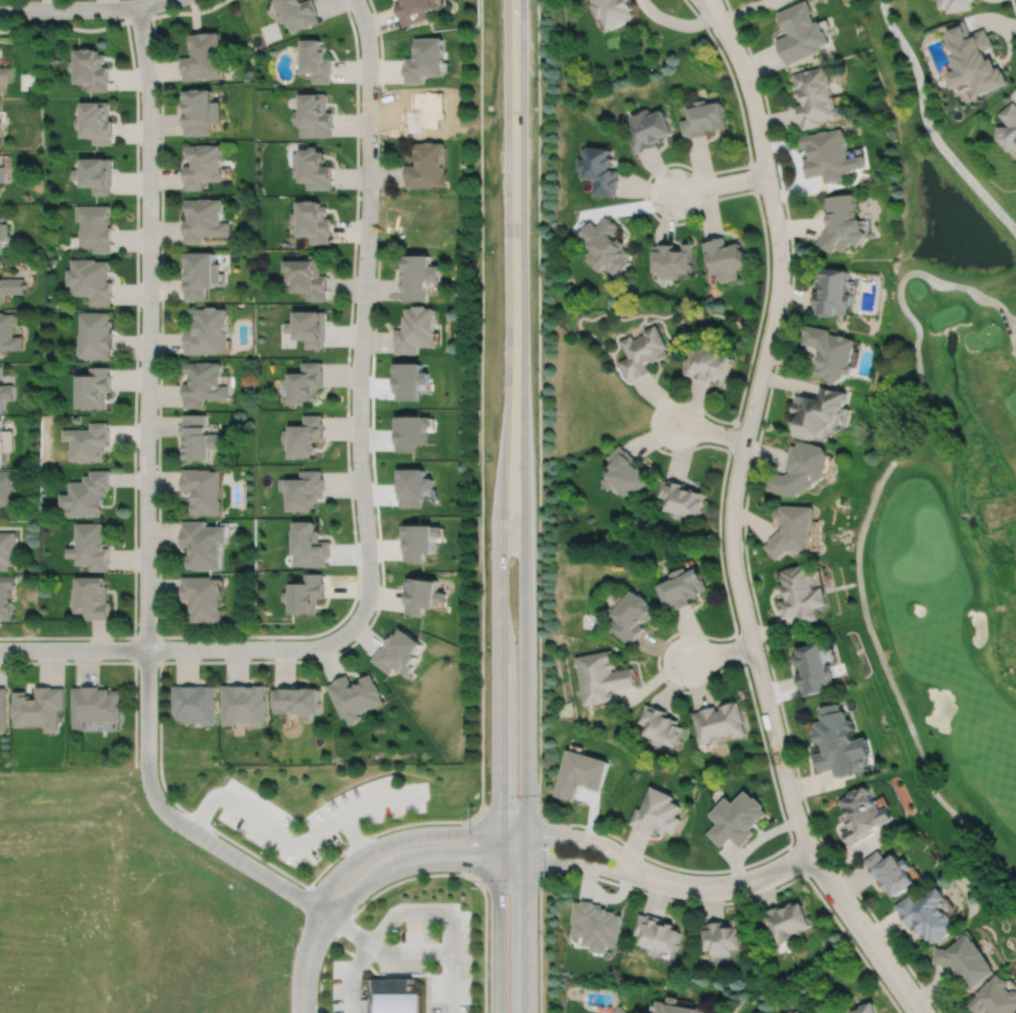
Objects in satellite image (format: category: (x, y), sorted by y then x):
building: (957, 4)
road: (1013, 7)
road: (82, 8)
building: (415, 10)
road: (708, 10)
road: (715, 10)
building: (615, 11)
building: (298, 12)
street lamp: (118, 17)
road: (138, 18)
park: (269, 30)
building: (800, 33)
building: (205, 56)
building: (425, 59)
building: (976, 59)
building: (316, 60)
building: (91, 69)
building: (5, 75)
street lamp: (157, 86)
street lamp: (378, 86)
road: (381, 95)
building: (815, 97)
building: (202, 111)
building: (429, 112)
building: (315, 115)
building: (705, 118)
building: (96, 122)
building: (1, 126)
road: (928, 127)
building: (1009, 127)
building: (650, 129)
street lamp: (139, 148)
building: (829, 155)
road: (514, 161)
building: (204, 165)
building: (427, 166)
building: (314, 168)
building: (600, 169)
building: (2, 173)
building: (96, 175)
road: (720, 183)
street lamp: (359, 195)
road: (643, 197)
building: (207, 220)
building: (314, 221)
building: (842, 224)
building: (95, 227)
building: (3, 233)
building: (606, 246)
building: (725, 259)
building: (673, 260)
building: (202, 275)
building: (308, 277)
building: (417, 277)
building: (91, 280)
building: (10, 287)
building: (832, 295)
street lamp: (159, 302)
street lamp: (372, 303)
road: (362, 317)
road: (1011, 319)
road: (149, 327)
building: (310, 328)
building: (415, 330)
road: (135, 331)
building: (9, 333)
building: (209, 333)
building: (95, 335)
building: (644, 353)
building: (830, 354)
building: (708, 364)
building: (306, 382)
building: (205, 384)
building: (414, 384)
building: (94, 389)
building: (5, 394)
road: (694, 401)
street lamp: (350, 405)
road: (540, 408)
building: (818, 412)
street lamp: (137, 414)
road: (505, 429)
road: (709, 431)
building: (414, 434)
building: (303, 435)
building: (199, 437)
building: (5, 443)
building: (88, 443)
road: (683, 451)
street lamp: (488, 457)
building: (800, 468)
building: (622, 472)
park: (942, 477)
road: (522, 479)
building: (413, 486)
building: (302, 488)
building: (7, 489)
building: (203, 489)
building: (84, 494)
building: (679, 498)
road: (865, 517)
street lamp: (156, 518)
road: (743, 522)
road: (972, 525)
building: (792, 529)
road: (731, 531)
building: (419, 539)
building: (203, 543)
building: (308, 544)
building: (89, 546)
building: (8, 549)
street lamp: (379, 571)
building: (680, 587)
building: (305, 593)
building: (423, 593)
building: (801, 593)
building: (6, 595)
building: (90, 597)
building: (203, 597)
road: (380, 599)
road: (481, 604)
building: (629, 615)
road: (733, 634)
road: (217, 636)
road: (146, 637)
street lamp: (255, 638)
street lamp: (126, 639)
street lamp: (488, 646)
road: (739, 648)
road: (176, 649)
building: (398, 652)
road: (719, 652)
street lamp: (10, 659)
road: (118, 662)
road: (147, 662)
building: (814, 669)
street lamp: (157, 671)
building: (601, 676)
building: (354, 696)
building: (297, 701)
building: (194, 703)
building: (243, 704)
building: (93, 705)
building: (38, 707)
building: (3, 709)
building: (718, 722)
building: (659, 726)
building: (838, 742)
street lamp: (157, 762)
road: (499, 775)
building: (656, 813)
parking lot: (314, 814)
building: (863, 816)
road: (172, 817)
building: (735, 819)
road: (526, 824)
road: (354, 833)
road: (473, 834)
traffic signals: (499, 834)
street lamp: (180, 835)
street lamp: (379, 835)
traffic signals: (526, 835)
road: (299, 843)
road: (543, 846)
road: (481, 859)
traffic signals: (499, 859)
traffic signals: (526, 860)
road: (798, 860)
building: (892, 873)
road: (423, 875)
street lamp: (298, 885)
road: (735, 885)
street lamp: (475, 889)
road: (755, 896)
road: (333, 899)
street lamp: (358, 906)
road: (415, 911)
building: (928, 916)
building: (787, 922)
building: (596, 926)
street lamp: (401, 929)
street lamp: (472, 935)
building: (655, 935)
building: (722, 938)
road: (540, 945)
road: (381, 951)
parking lot: (413, 955)
road: (307, 961)
building: (967, 962)
street lamp: (289, 972)
road: (395, 974)
street lamp: (489, 978)
street lamp: (330, 979)
building: (394, 996)
building: (996, 998)
street lamp: (472, 1002)
building: (366, 1005)
building: (673, 1008)
building: (619, 1010)
building: (862, 1010)

